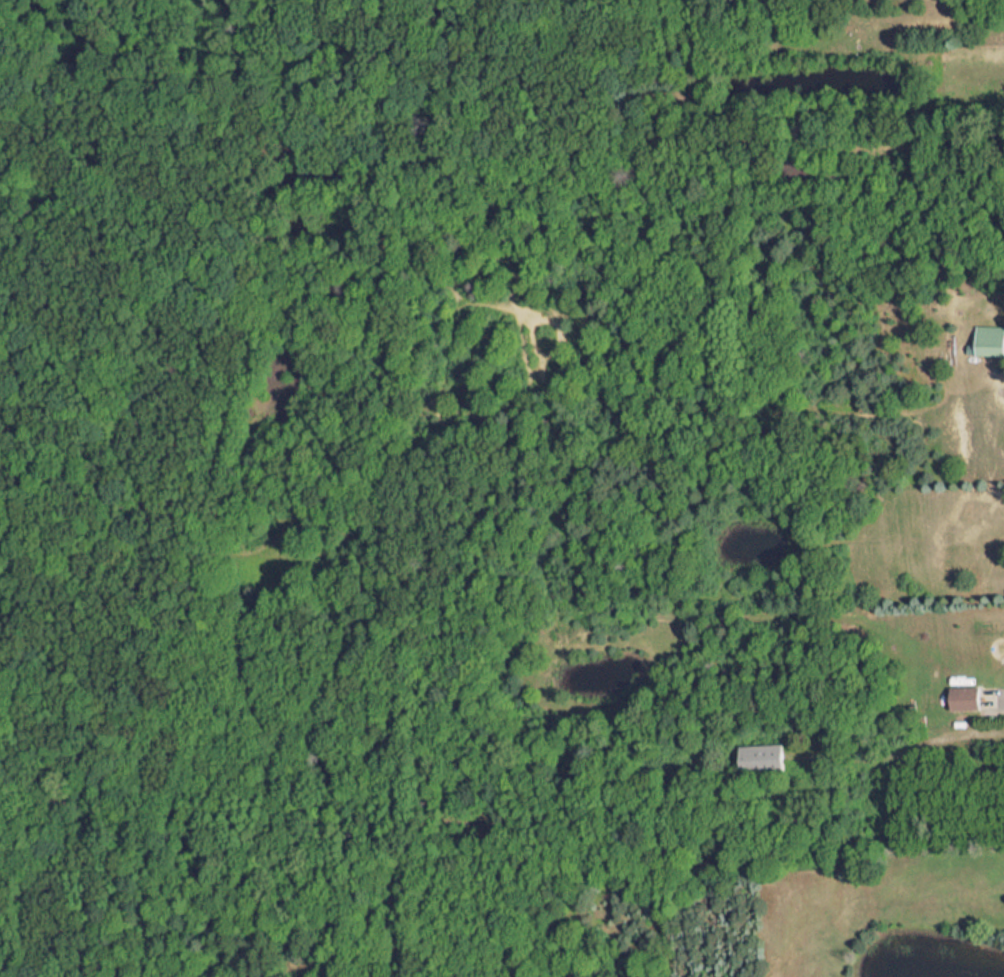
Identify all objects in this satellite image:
building: (985, 334)
building: (959, 690)

